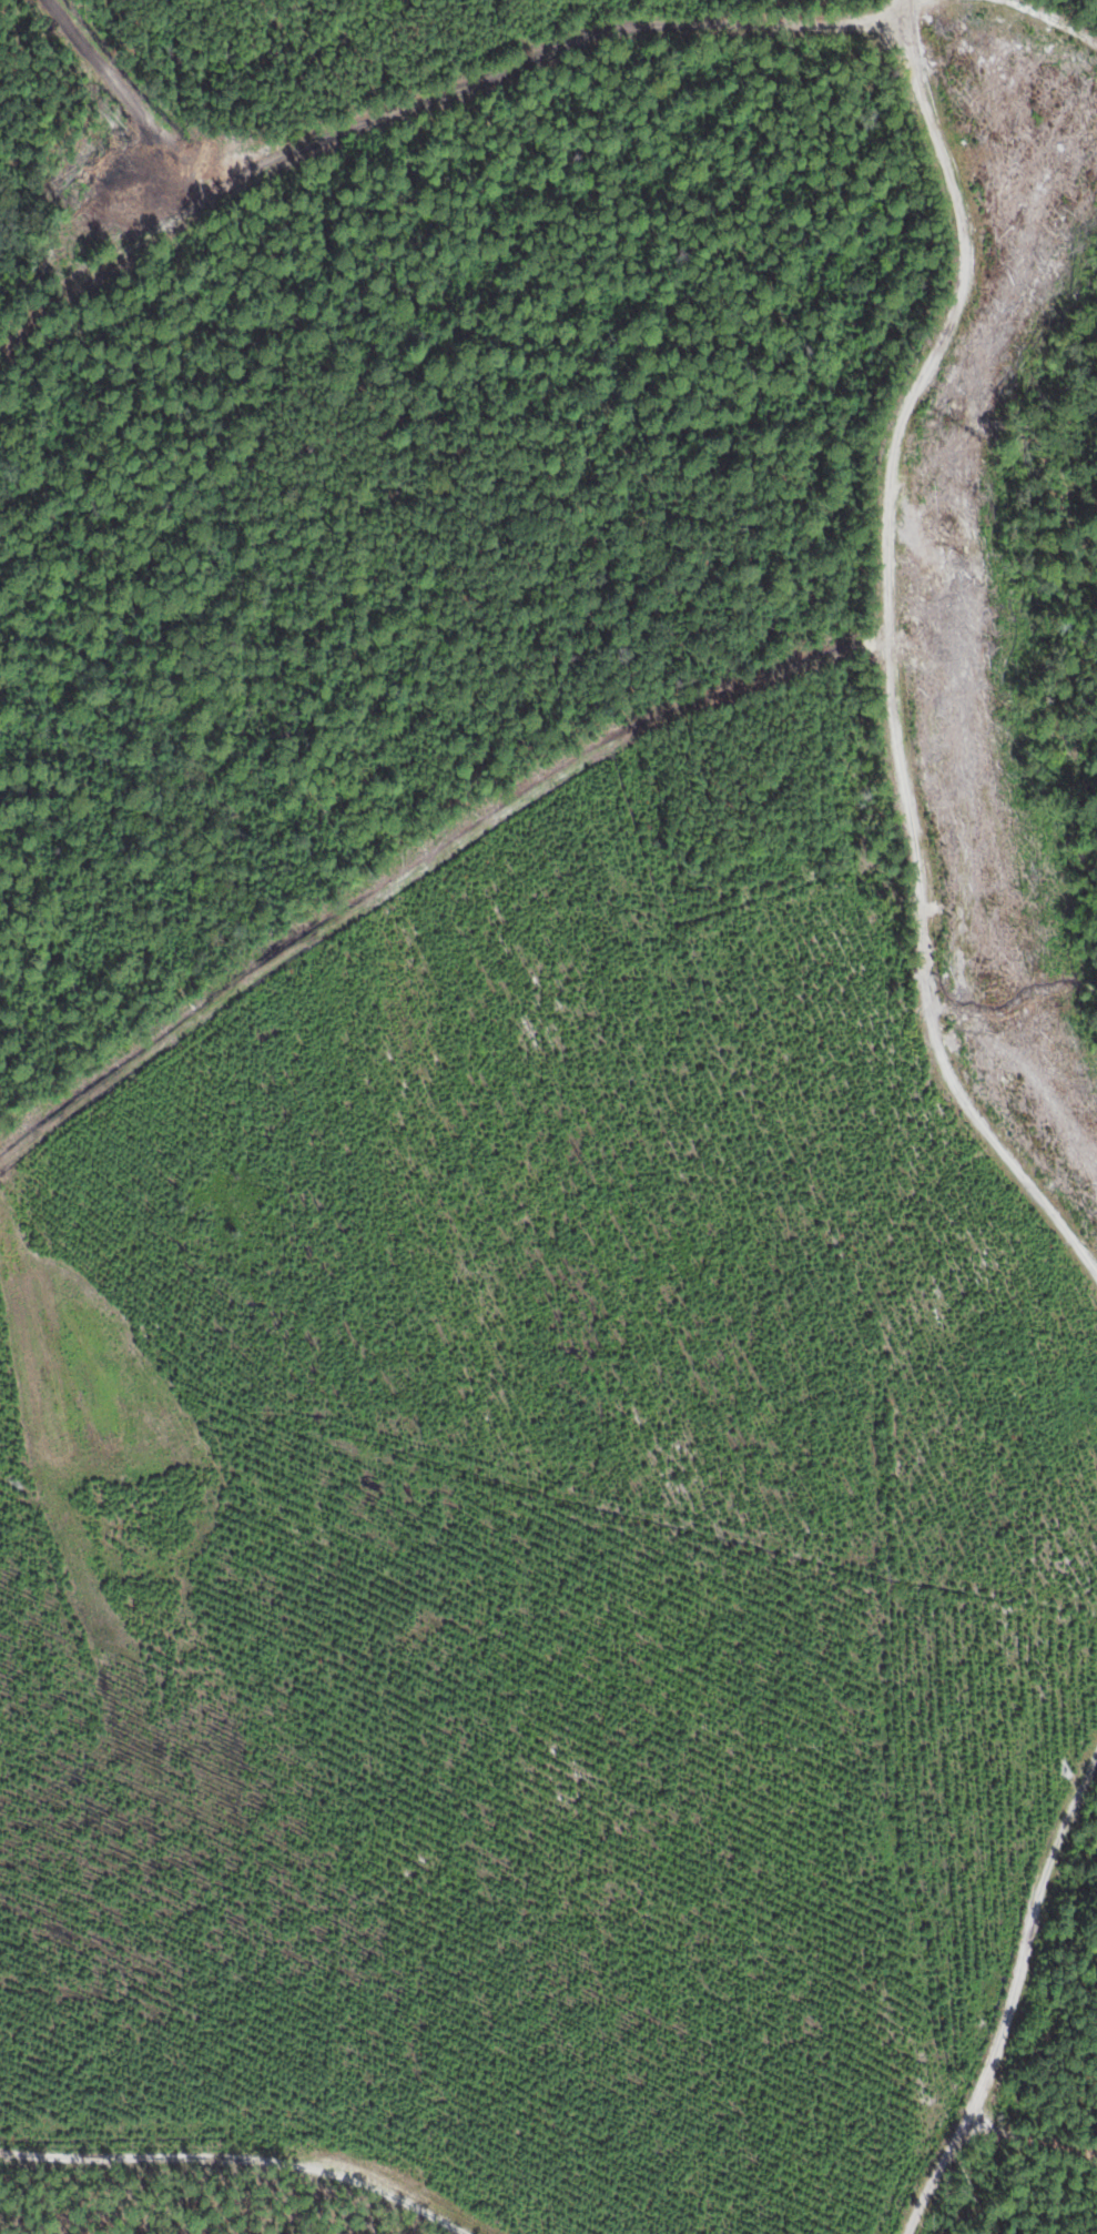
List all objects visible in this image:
road: (914, 6)
road: (1052, 21)
road: (425, 95)
road: (987, 2097)
road: (270, 2135)

